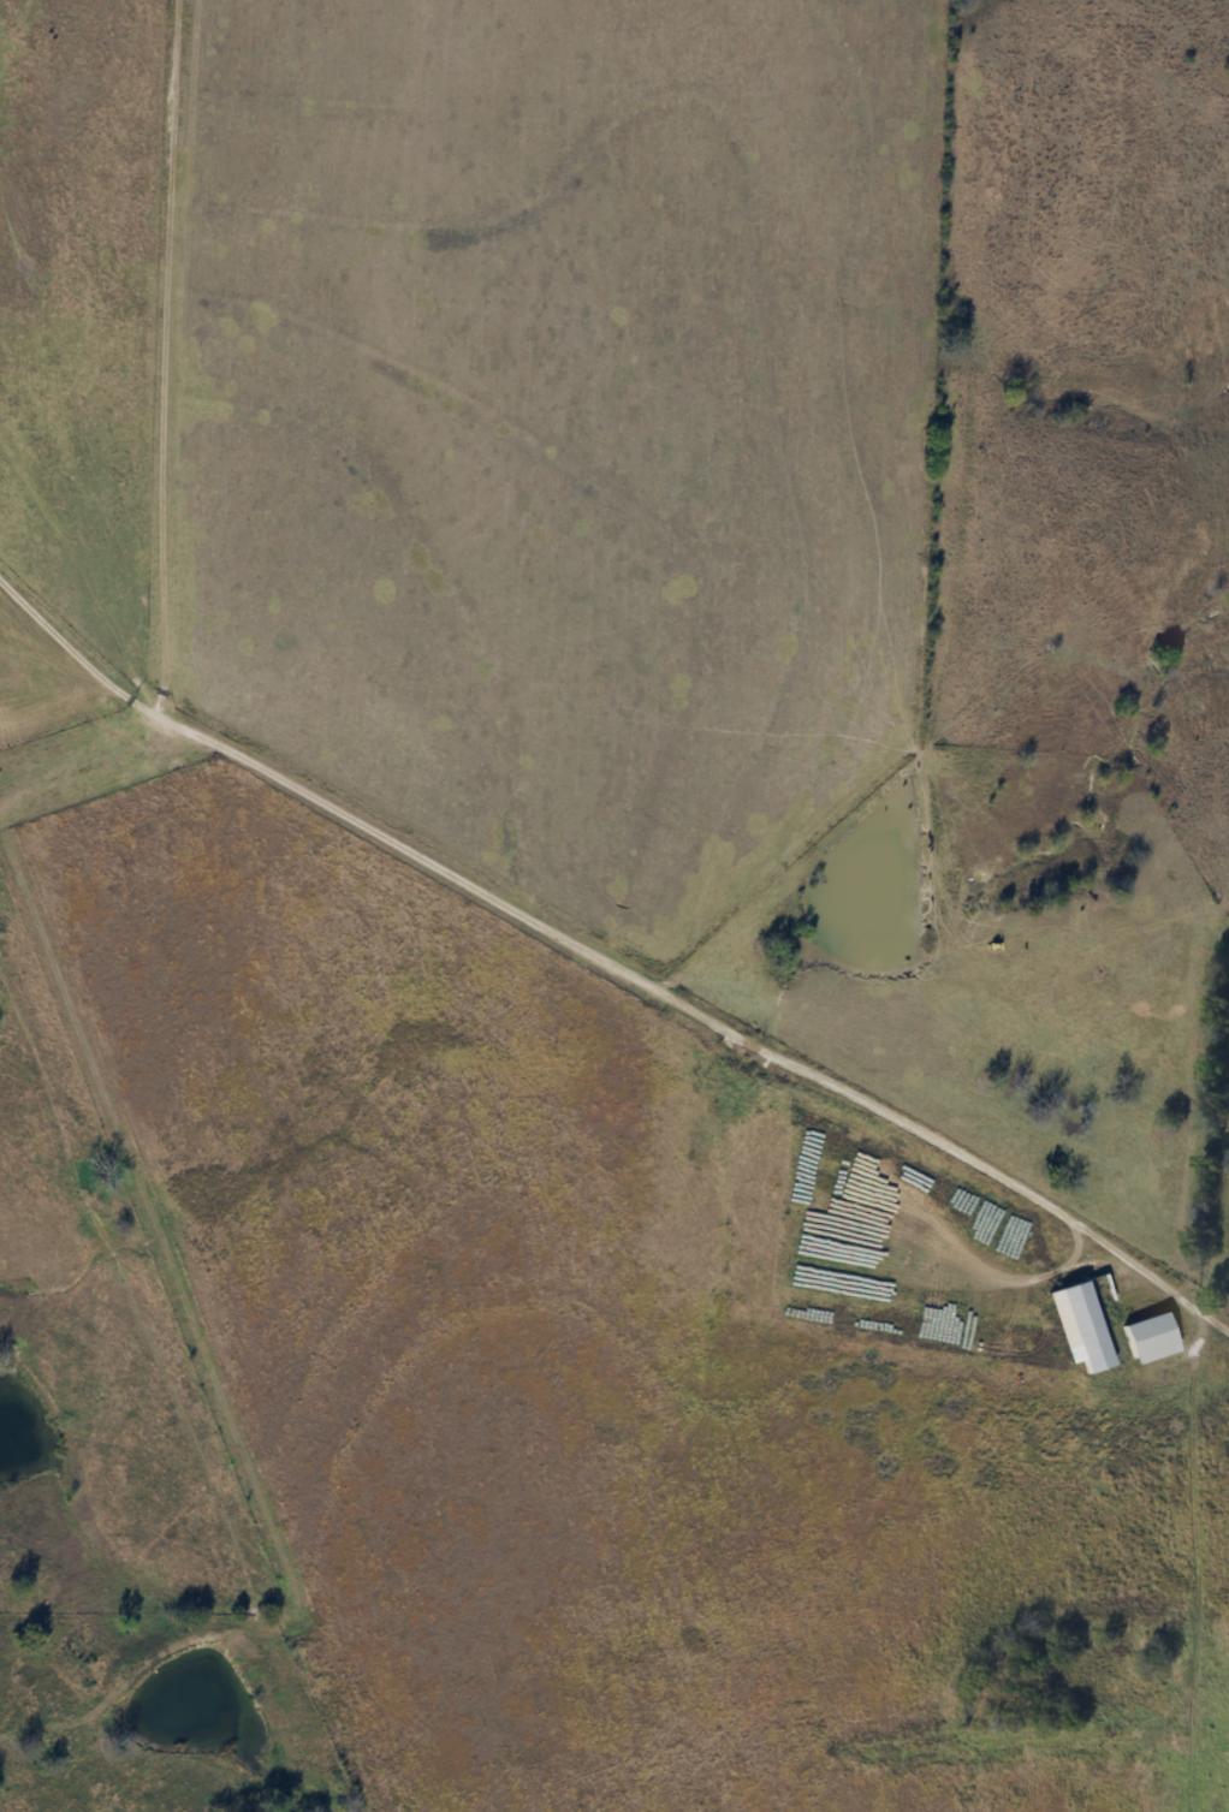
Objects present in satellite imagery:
road: (133, 317)
road: (51, 624)
building: (1087, 1329)
building: (1151, 1339)
park: (1071, 1677)

